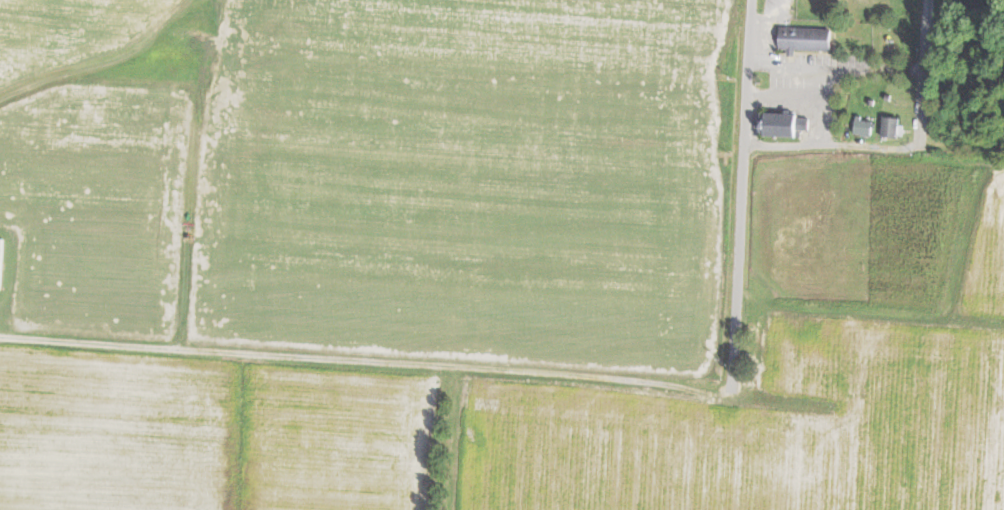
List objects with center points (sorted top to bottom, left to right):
building: (806, 39)
road: (837, 67)
road: (822, 83)
road: (927, 85)
road: (806, 99)
building: (784, 124)
building: (864, 127)
building: (891, 127)
road: (782, 145)
road: (872, 148)
road: (873, 170)
building: (1, 263)
road: (561, 381)

